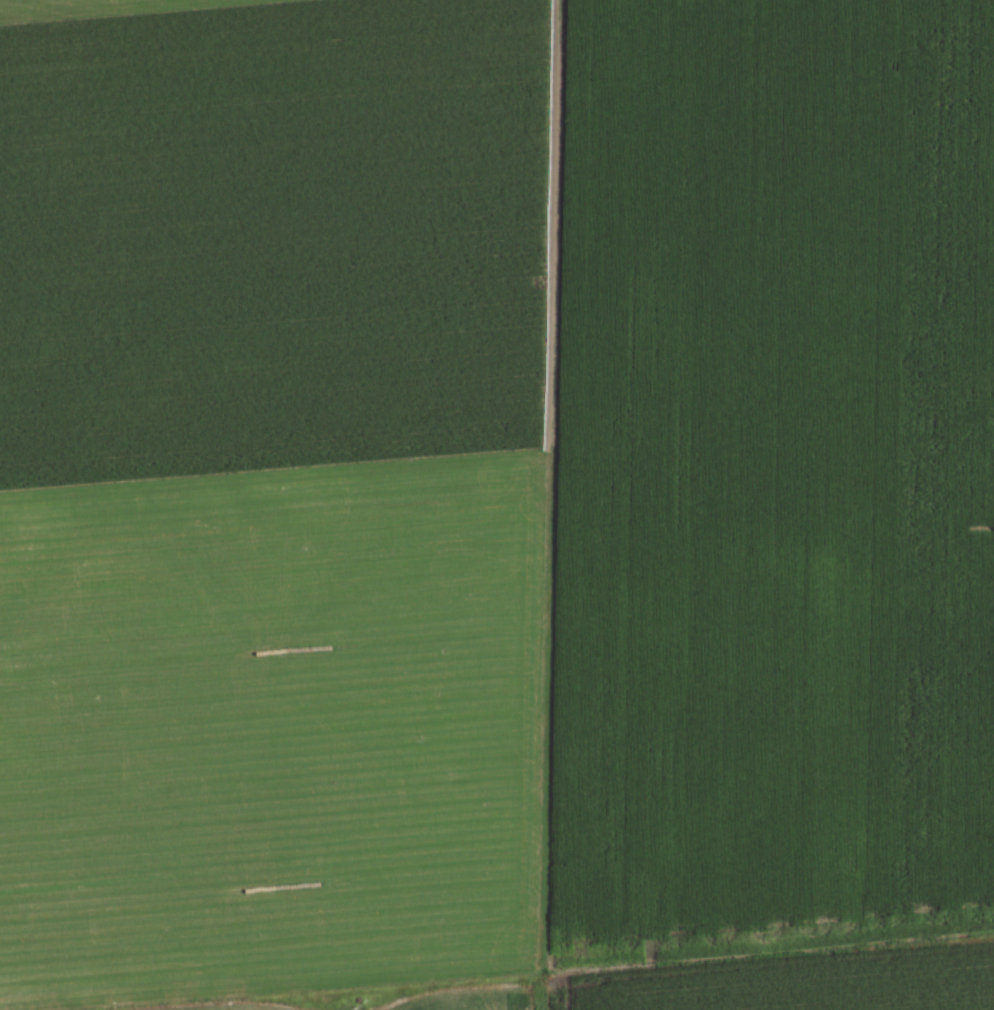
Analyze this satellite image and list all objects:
crop: (497, 505)

